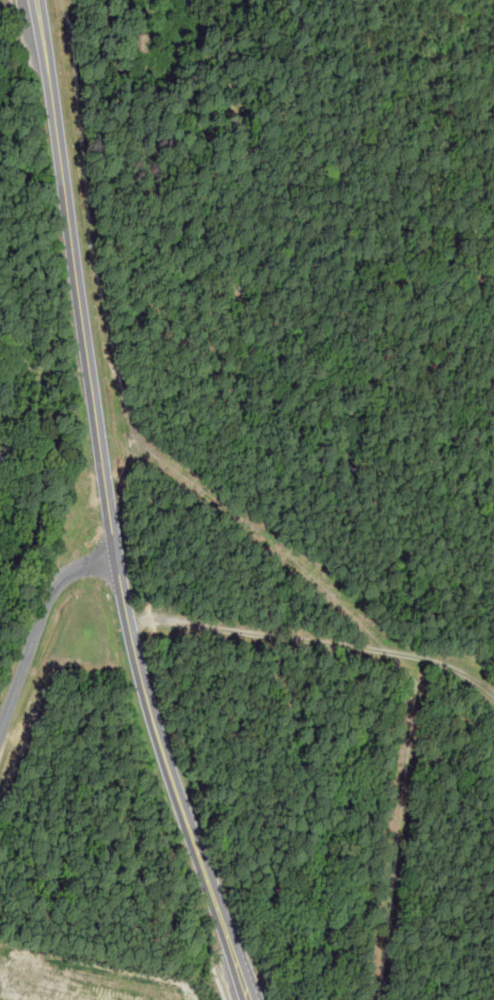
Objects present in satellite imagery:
road: (108, 507)
road: (38, 628)
road: (220, 984)

